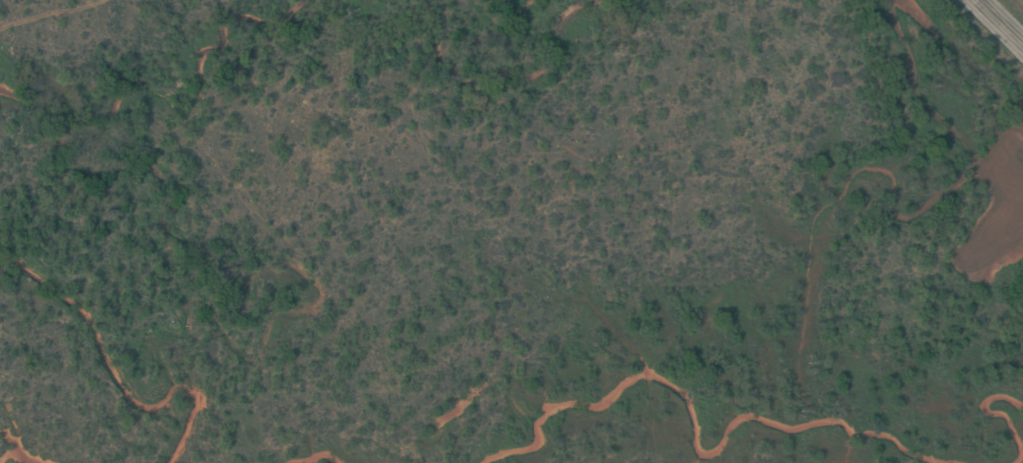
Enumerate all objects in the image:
road: (1001, 20)

